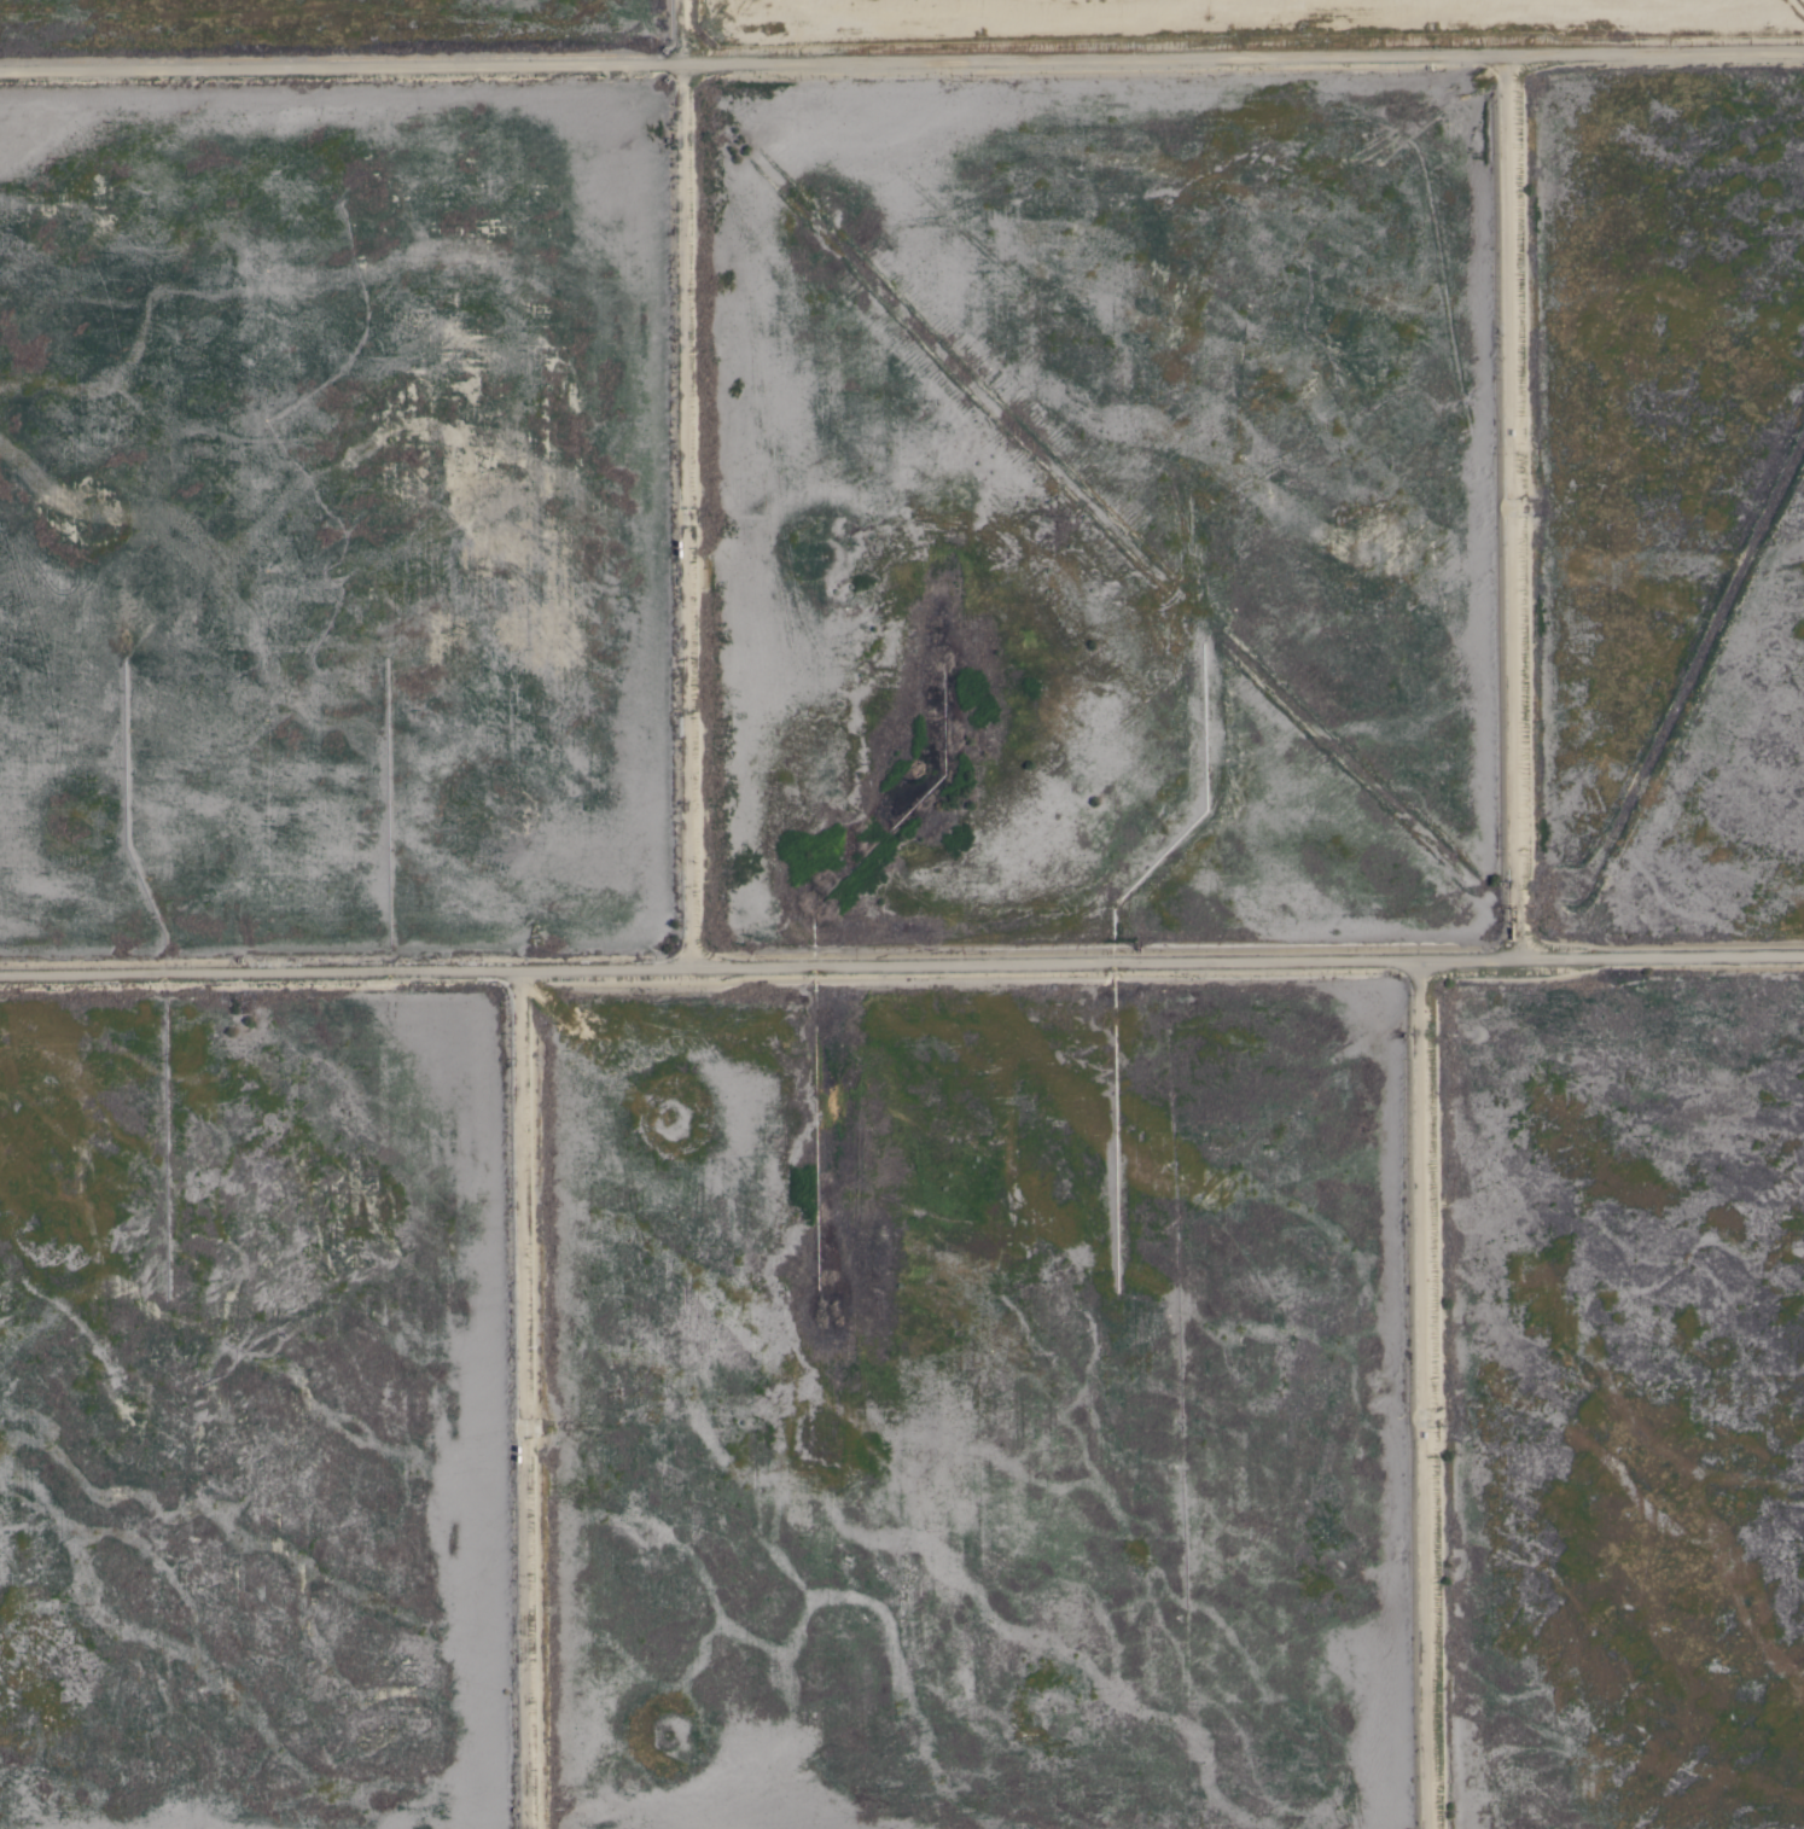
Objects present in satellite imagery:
wastewater plant: (1665, 495)
wastewater plant: (1078, 507)
wastewater plant: (319, 522)
wastewater plant: (902, 914)
wastewater plant: (1620, 1409)
wastewater plant: (958, 1414)
wastewater plant: (237, 1421)

